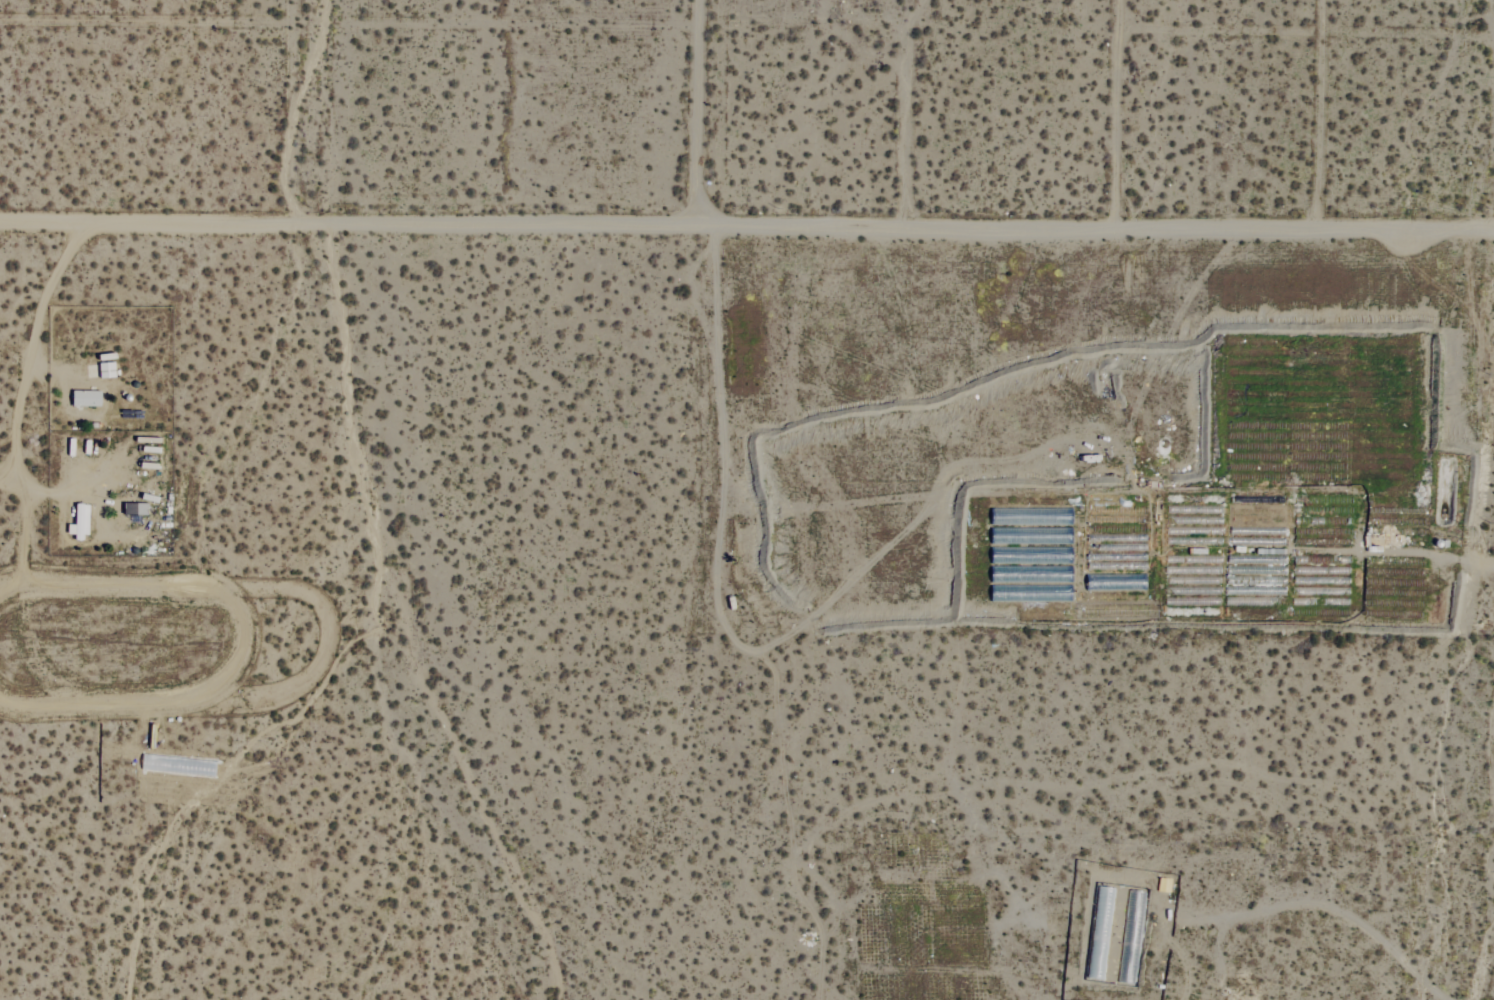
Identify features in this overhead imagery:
road: (694, 115)
road: (746, 232)
road: (28, 345)
road: (31, 365)
road: (50, 365)
building: (87, 398)
road: (18, 480)
road: (53, 482)
building: (79, 521)

